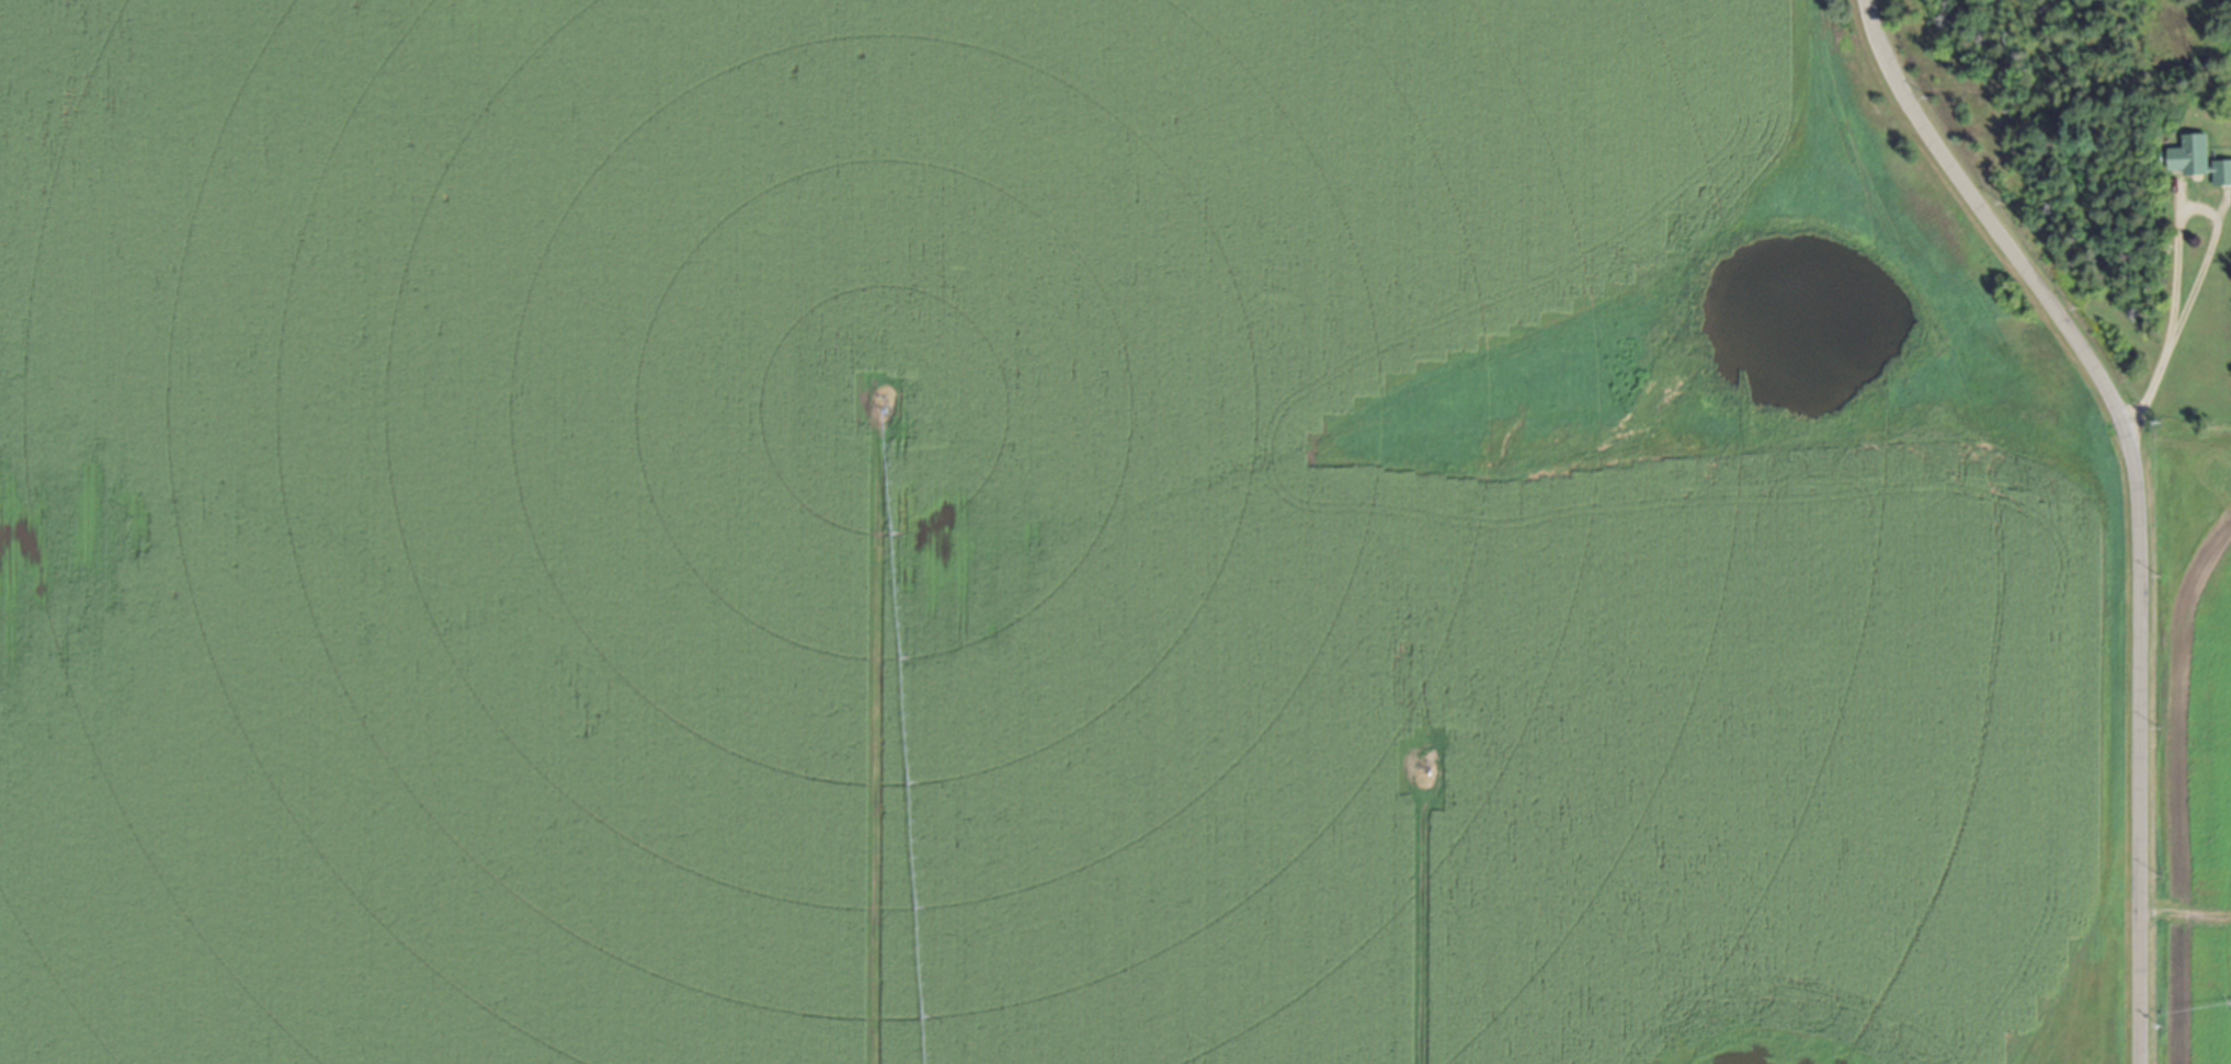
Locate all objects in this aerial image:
building: (2200, 160)
road: (2210, 263)
road: (2142, 493)

